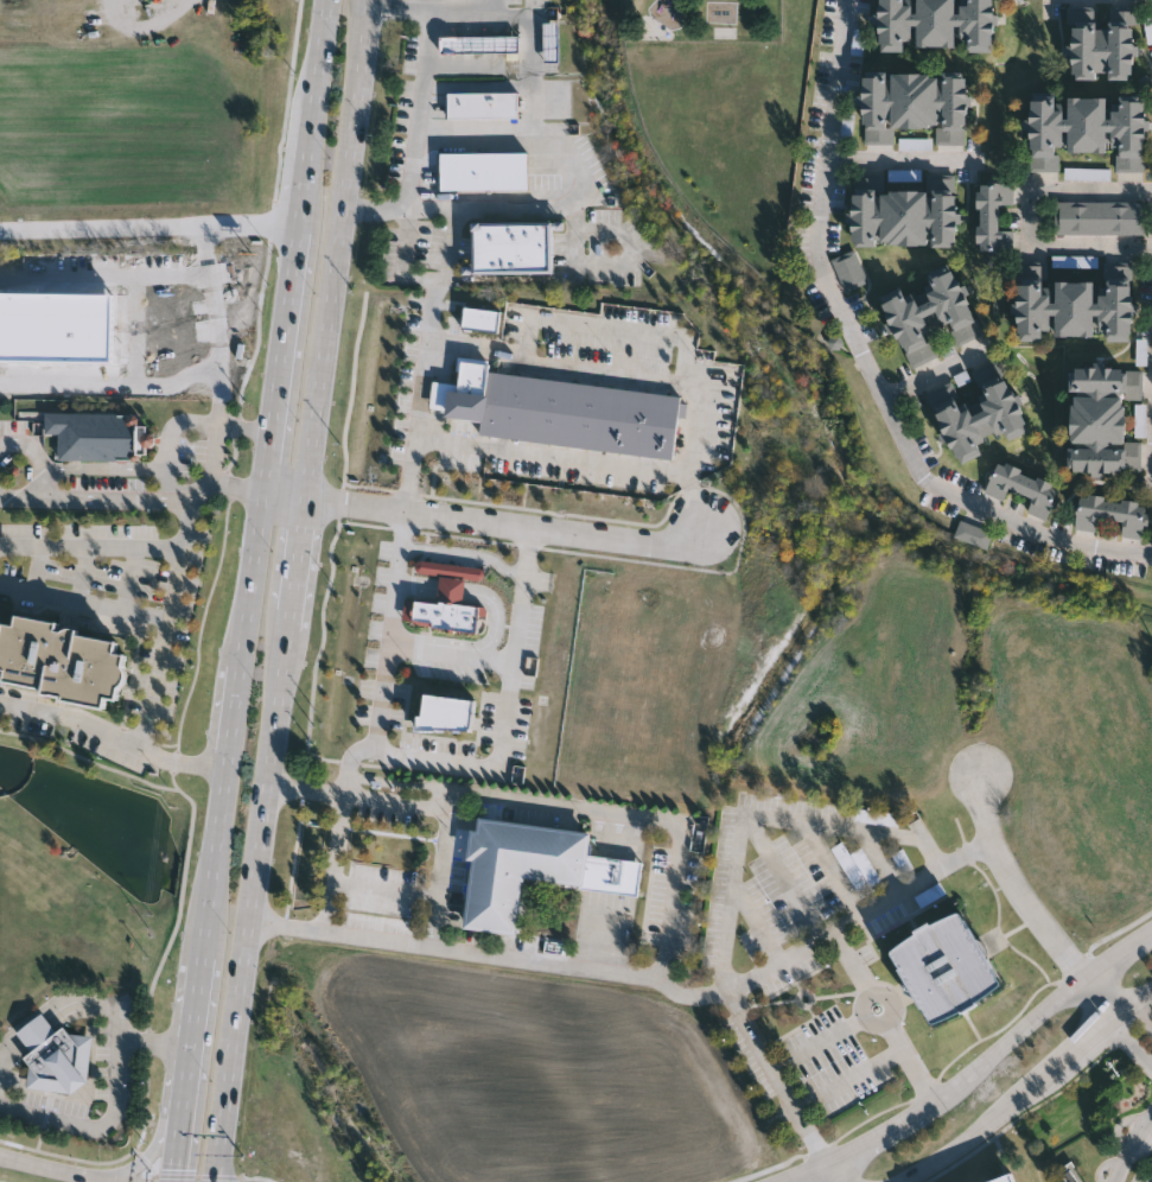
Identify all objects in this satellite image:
building: (934, 24)
road: (145, 25)
road: (527, 28)
park: (723, 32)
building: (550, 43)
building: (479, 45)
building: (1101, 50)
road: (318, 55)
building: (484, 104)
building: (912, 104)
road: (418, 114)
building: (1087, 129)
road: (898, 161)
road: (305, 165)
building: (484, 170)
building: (1089, 176)
road: (583, 180)
building: (903, 216)
building: (993, 216)
road: (1031, 216)
building: (1102, 216)
road: (571, 217)
road: (149, 225)
building: (513, 243)
building: (1077, 263)
building: (852, 272)
road: (106, 273)
road: (565, 274)
building: (1075, 301)
building: (933, 316)
road: (219, 324)
building: (568, 332)
building: (625, 338)
road: (428, 344)
road: (282, 355)
road: (868, 360)
road: (935, 373)
road: (112, 386)
building: (705, 403)
building: (1105, 418)
building: (982, 420)
road: (695, 431)
building: (96, 433)
road: (214, 462)
building: (1025, 487)
road: (286, 491)
road: (138, 497)
road: (693, 506)
building: (1110, 511)
road: (503, 522)
building: (975, 536)
road: (90, 546)
road: (254, 578)
road: (292, 591)
road: (85, 600)
road: (390, 627)
road: (164, 647)
road: (451, 653)
building: (61, 659)
road: (236, 719)
road: (115, 736)
road: (453, 760)
road: (985, 812)
building: (879, 819)
road: (217, 865)
road: (830, 868)
building: (516, 869)
building: (860, 870)
road: (779, 875)
road: (441, 876)
building: (612, 876)
road: (386, 890)
road: (723, 892)
road: (1037, 911)
road: (753, 913)
road: (674, 916)
road: (857, 917)
building: (940, 966)
road: (688, 992)
road: (1120, 997)
road: (1147, 1012)
road: (881, 1016)
road: (197, 1017)
road: (1112, 1027)
road: (38, 1034)
road: (157, 1044)
road: (810, 1050)
road: (8, 1056)
building: (56, 1056)
road: (972, 1072)
road: (851, 1082)
road: (117, 1083)
road: (1025, 1089)
parking lot: (57, 1105)
road: (183, 1127)
road: (1137, 1137)
road: (164, 1145)
road: (69, 1170)
traffic signals: (178, 1170)
road: (1119, 1170)
road: (832, 1173)
building: (954, 1178)
building: (1005, 1178)

